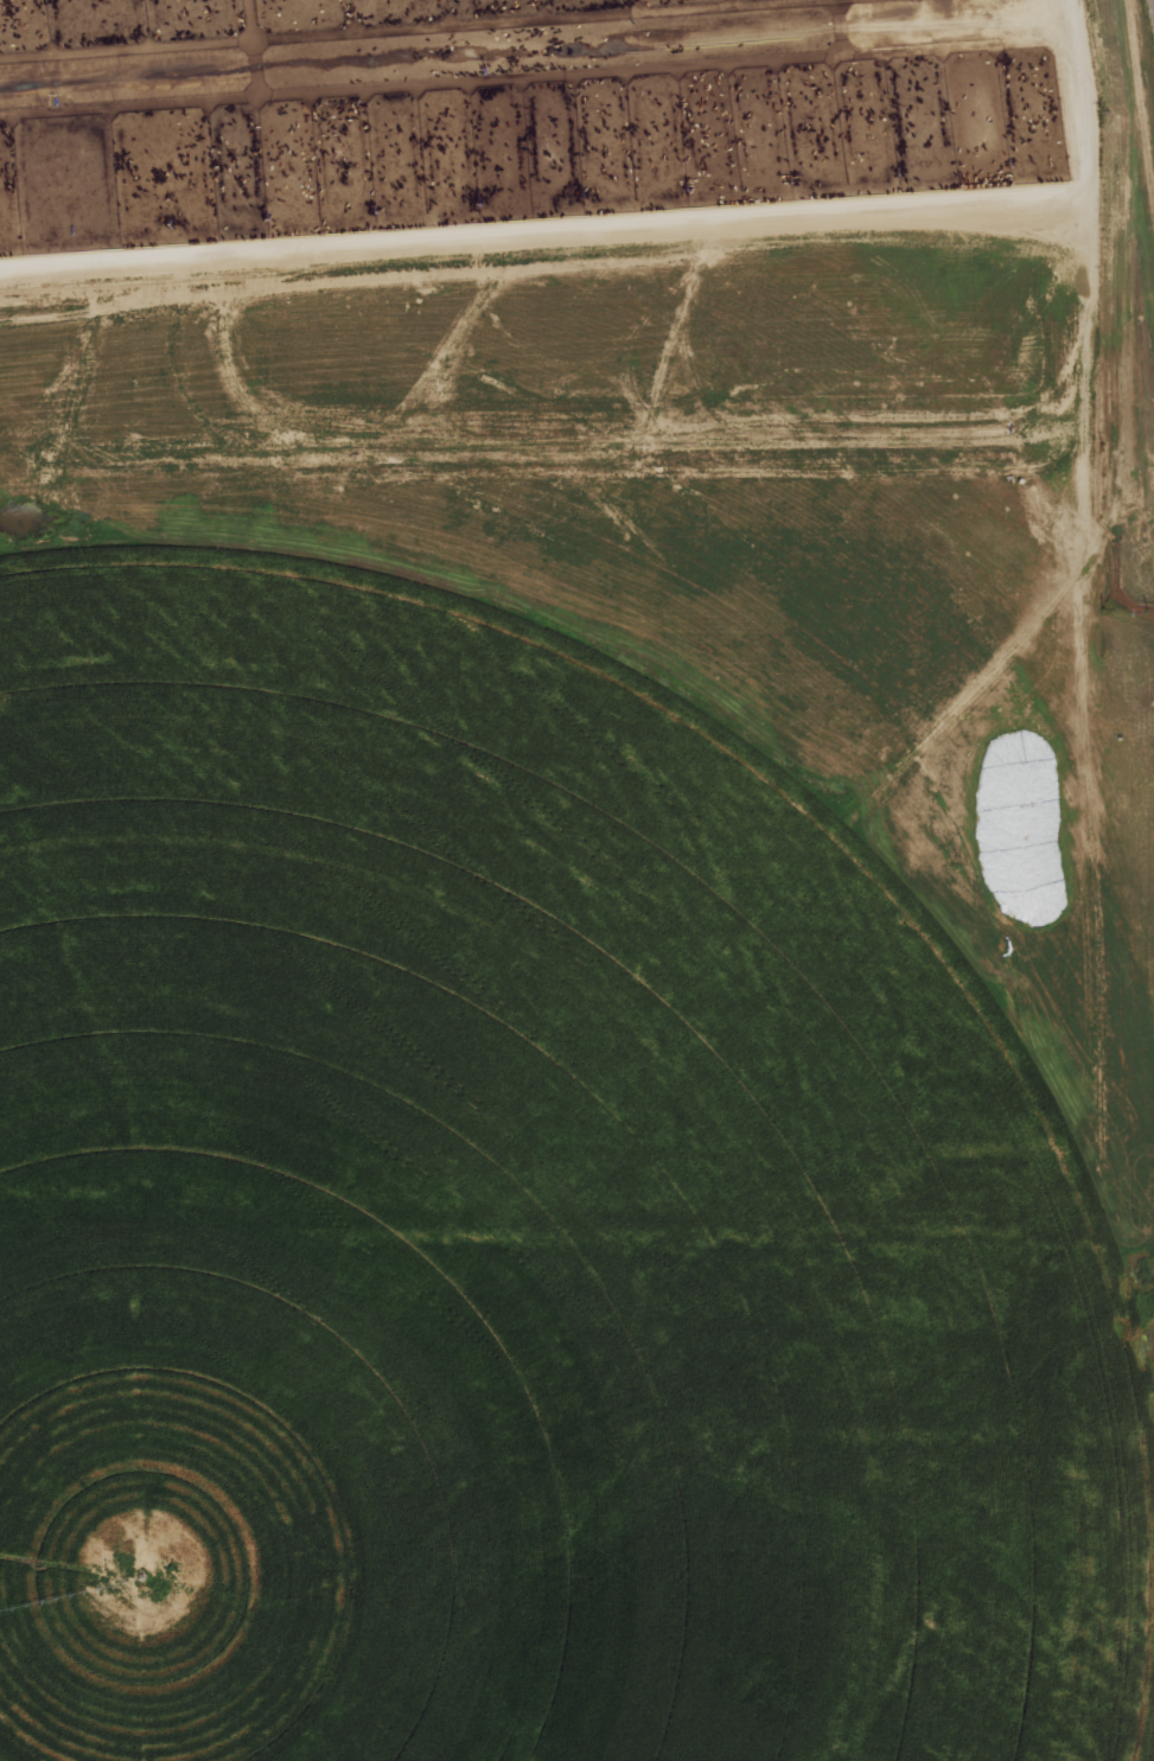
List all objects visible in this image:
railway: (1153, 2)

